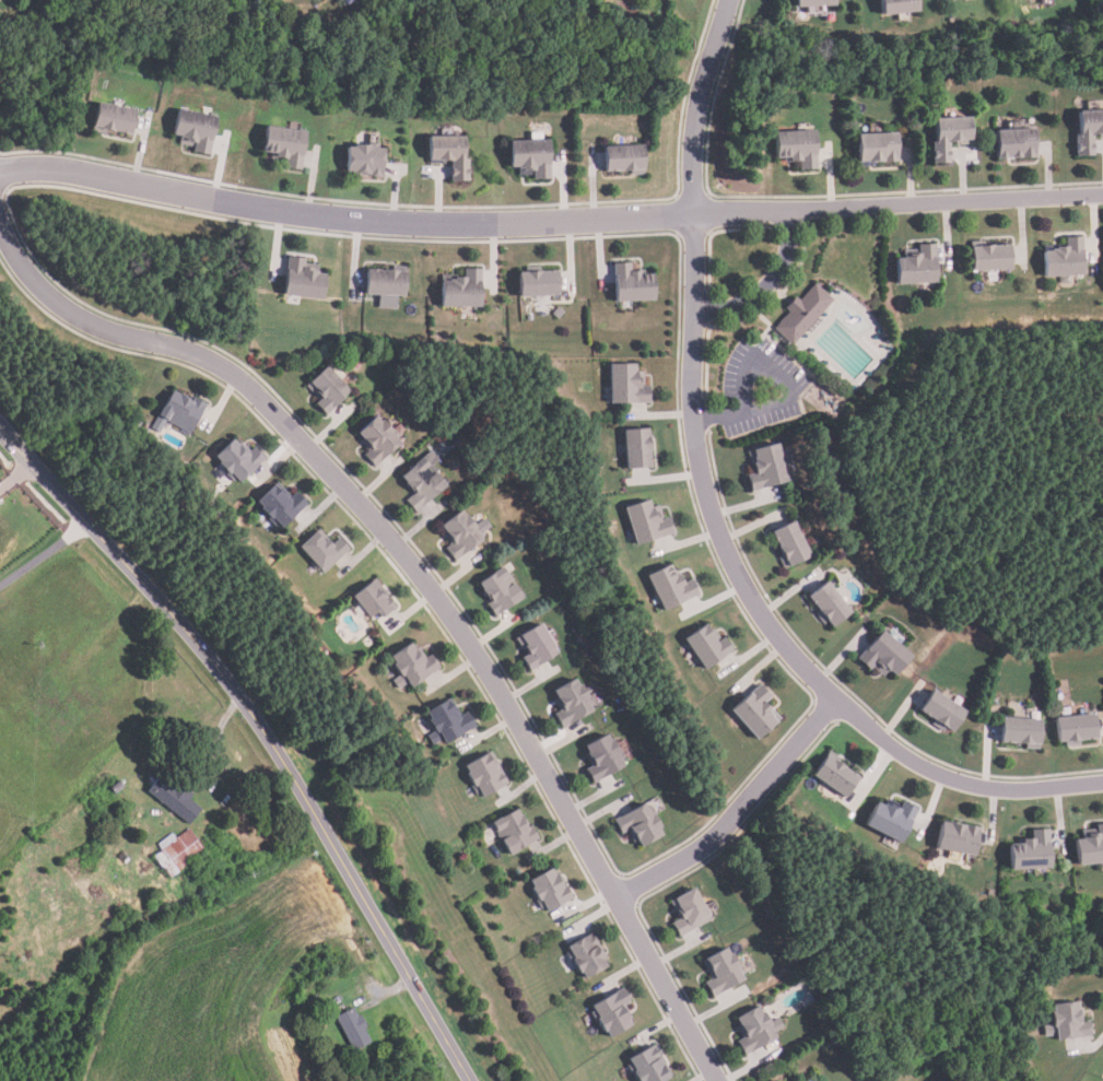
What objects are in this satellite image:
building: (1, 3)
building: (813, 3)
building: (1098, 4)
building: (900, 7)
building: (113, 119)
building: (196, 130)
building: (1088, 131)
building: (949, 137)
building: (1017, 144)
building: (285, 146)
building: (796, 148)
building: (878, 149)
building: (450, 155)
building: (532, 158)
building: (625, 160)
building: (364, 161)
road: (549, 221)
building: (991, 258)
building: (1069, 259)
building: (917, 267)
building: (303, 281)
road: (765, 282)
building: (540, 284)
building: (387, 285)
building: (633, 285)
building: (464, 291)
building: (802, 314)
road: (753, 360)
building: (627, 383)
building: (327, 387)
building: (181, 411)
building: (377, 439)
building: (638, 446)
building: (239, 460)
building: (766, 466)
road: (16, 475)
building: (424, 480)
building: (281, 504)
road: (712, 515)
building: (646, 521)
building: (464, 532)
building: (790, 543)
building: (324, 549)
road: (44, 554)
road: (426, 583)
building: (671, 586)
building: (501, 589)
building: (374, 599)
building: (830, 602)
building: (537, 643)
building: (707, 645)
building: (885, 654)
building: (413, 665)
building: (571, 702)
building: (756, 710)
building: (943, 710)
building: (448, 720)
building: (1079, 727)
building: (1022, 729)
road: (219, 732)
road: (265, 733)
building: (602, 756)
building: (485, 774)
building: (838, 775)
building: (117, 786)
building: (175, 797)
road: (734, 810)
building: (891, 820)
building: (638, 822)
building: (515, 831)
building: (959, 836)
building: (1091, 846)
building: (1033, 850)
building: (178, 851)
building: (550, 889)
building: (688, 912)
building: (587, 954)
building: (721, 972)
road: (386, 994)
building: (613, 1011)
building: (1068, 1021)
building: (353, 1027)
building: (755, 1030)
building: (650, 1065)

